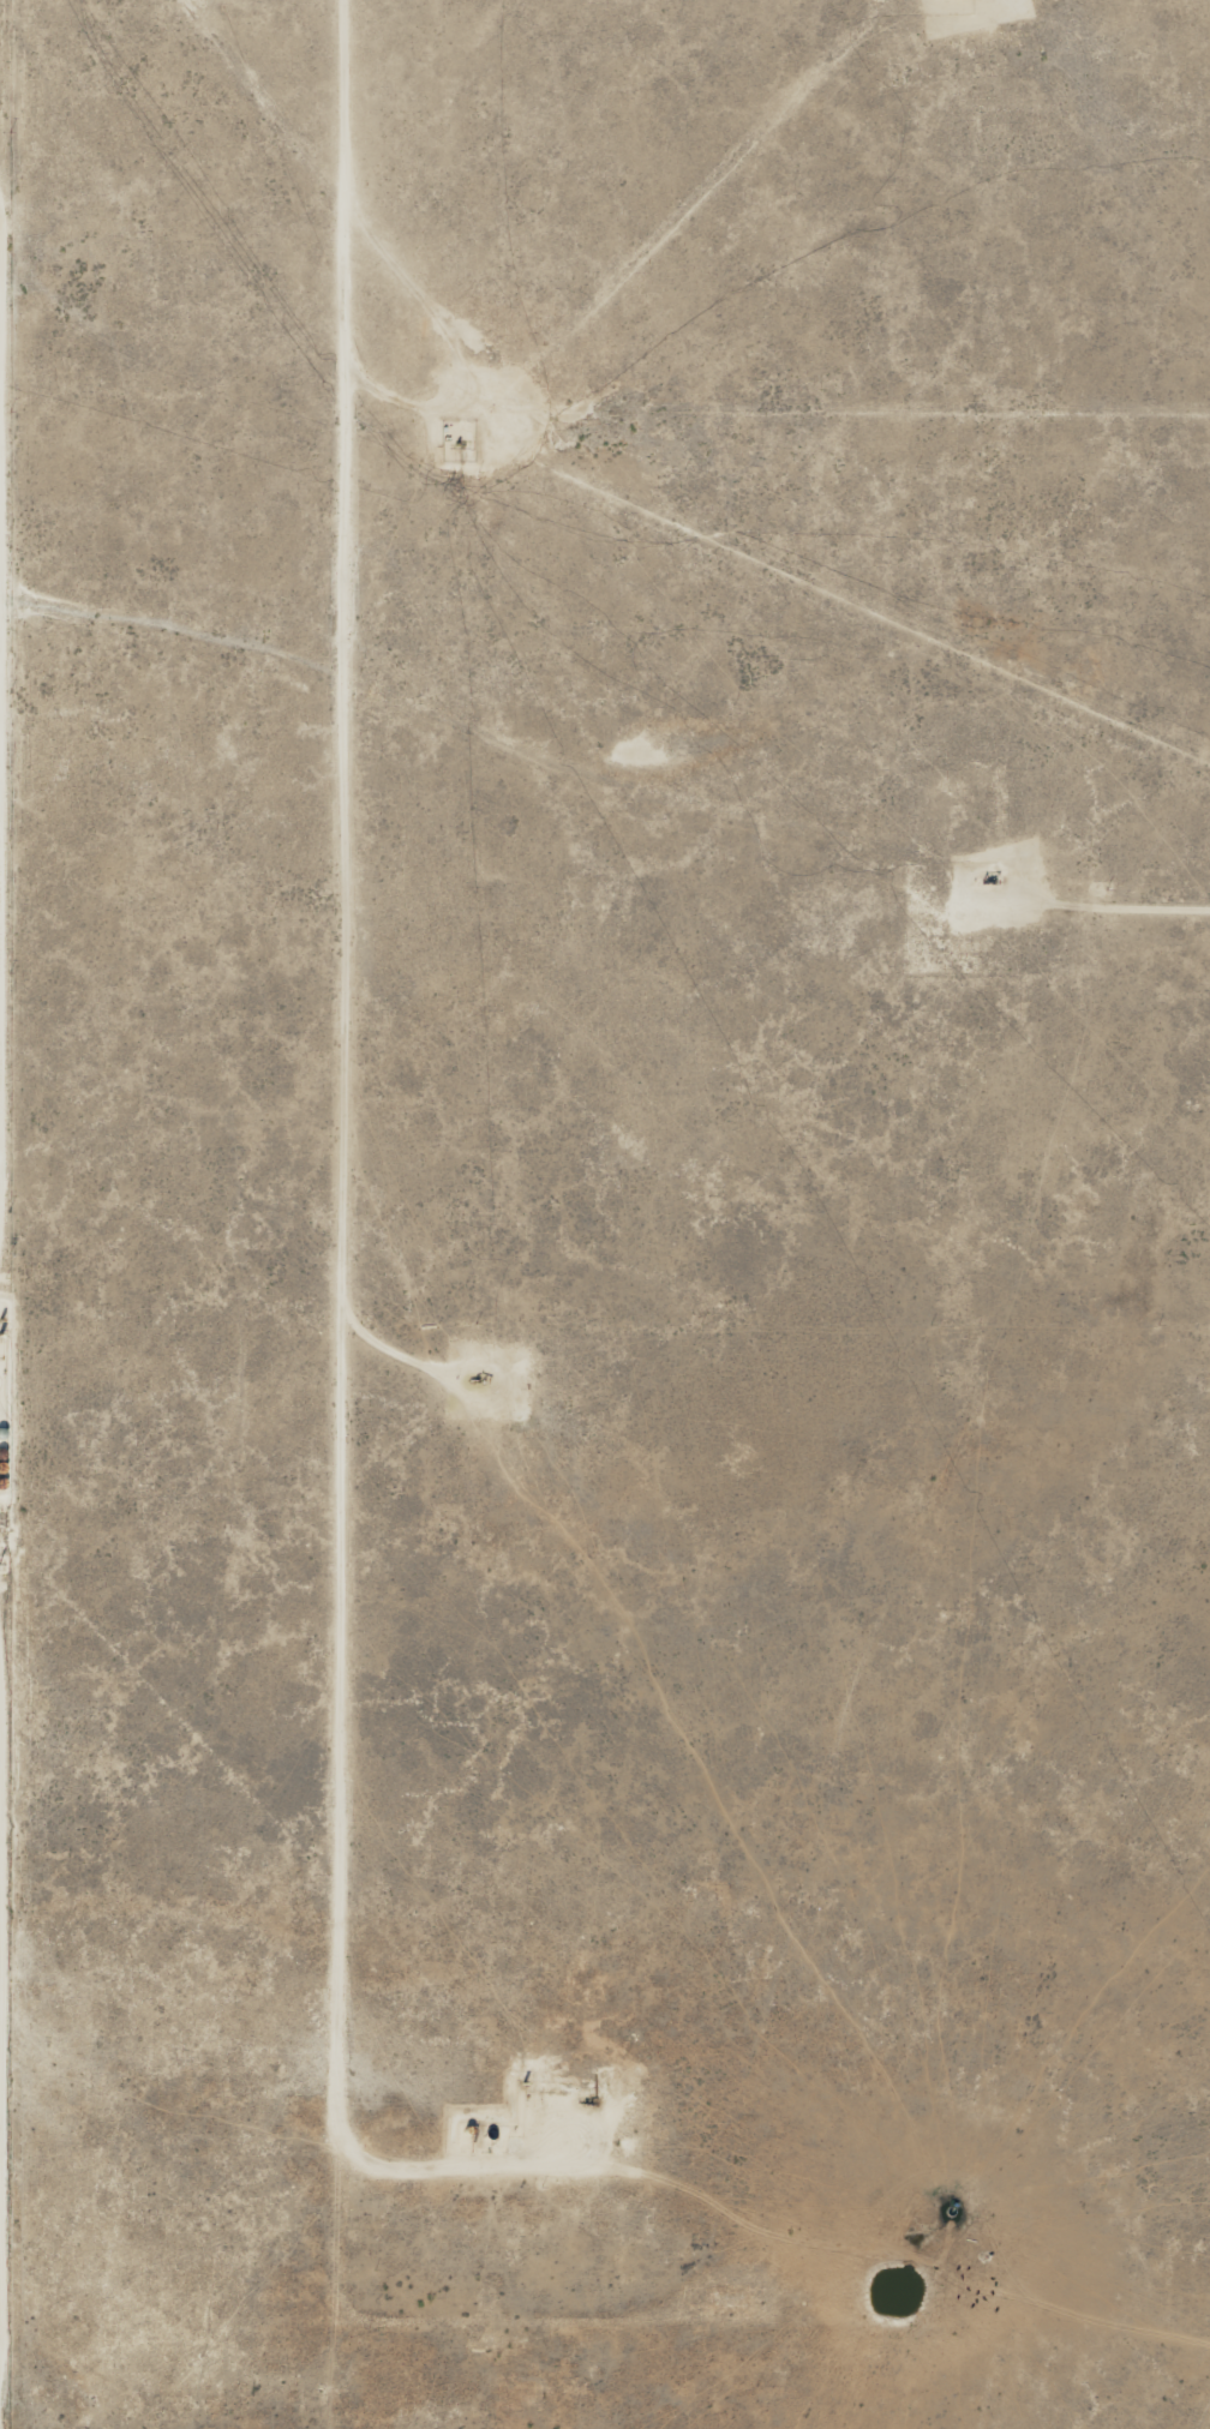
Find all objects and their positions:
road: (333, 1214)
road: (16, 1786)

